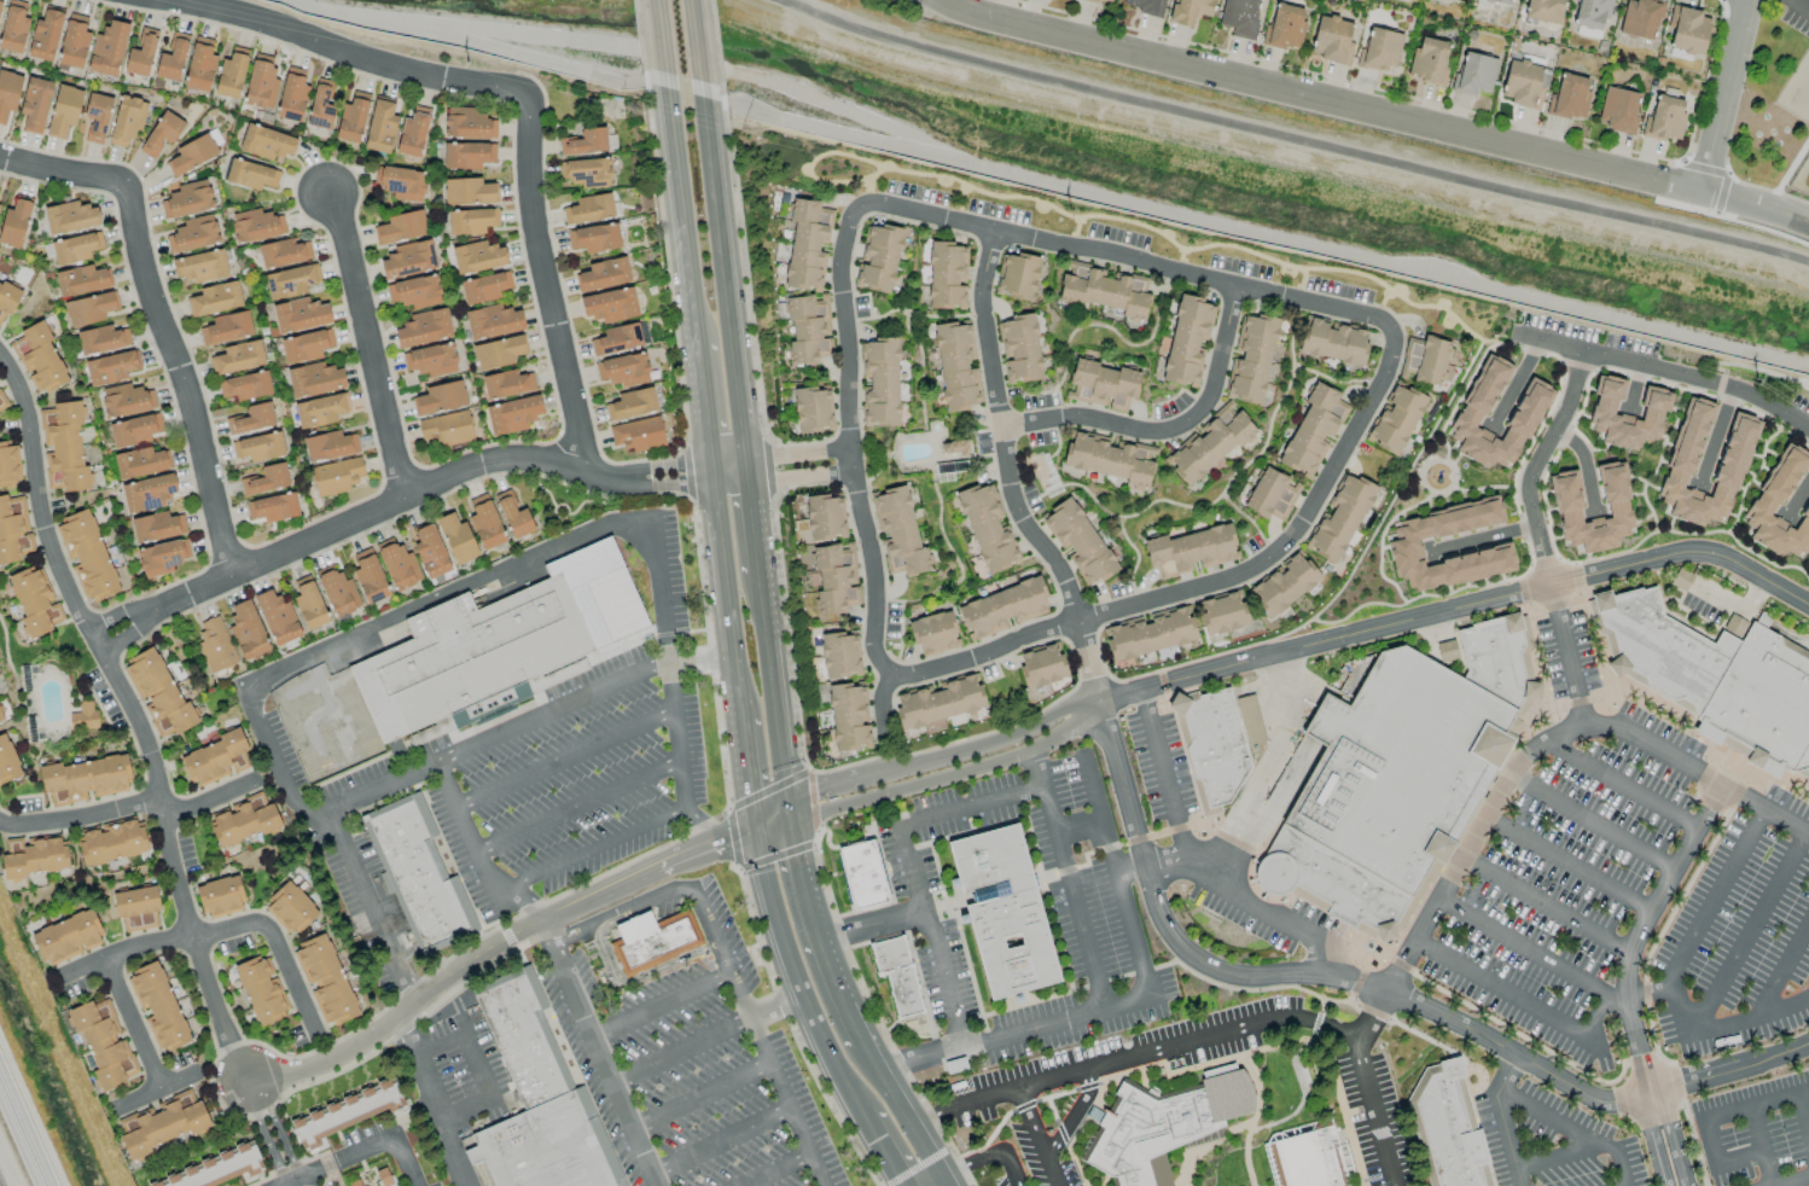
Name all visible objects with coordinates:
building: (1103, 1)
building: (1501, 1)
building: (0, 2)
road: (1801, 5)
building: (1147, 6)
building: (1543, 10)
building: (1189, 11)
building: (1592, 13)
parking lot: (1797, 14)
building: (1239, 17)
building: (1640, 18)
building: (13, 28)
building: (1284, 28)
building: (1687, 30)
building: (45, 35)
building: (1332, 40)
building: (74, 42)
road: (658, 43)
building: (107, 50)
building: (1380, 50)
road: (703, 51)
building: (141, 54)
power tower: (466, 56)
building: (171, 58)
building: (1429, 60)
building: (199, 65)
building: (231, 74)
building: (1473, 74)
building: (1524, 83)
building: (261, 86)
building: (8, 93)
road: (1726, 94)
building: (292, 95)
building: (1569, 98)
building: (35, 104)
building: (320, 105)
park: (1775, 105)
road: (529, 110)
building: (1617, 110)
building: (64, 111)
road: (1378, 111)
building: (97, 117)
building: (353, 117)
building: (1664, 117)
building: (127, 121)
building: (467, 123)
building: (380, 127)
road: (1313, 130)
building: (412, 133)
building: (162, 134)
building: (584, 141)
building: (194, 152)
building: (467, 155)
road: (1705, 169)
building: (586, 171)
road: (1787, 174)
building: (250, 175)
park: (1802, 180)
road: (836, 181)
building: (399, 184)
road: (869, 186)
building: (467, 191)
road: (1722, 193)
building: (187, 199)
road: (679, 203)
power tower: (1068, 203)
road: (964, 204)
building: (0, 205)
building: (588, 209)
road: (1716, 214)
building: (70, 217)
road: (1733, 220)
building: (471, 221)
building: (14, 223)
building: (256, 226)
building: (400, 227)
road: (1148, 228)
building: (193, 233)
building: (594, 238)
building: (807, 244)
building: (76, 248)
building: (283, 252)
building: (477, 257)
building: (878, 258)
building: (408, 260)
road: (1125, 262)
road: (1182, 262)
building: (200, 266)
building: (603, 274)
building: (946, 275)
building: (1016, 275)
building: (81, 280)
building: (289, 281)
road: (727, 285)
road: (1302, 285)
building: (484, 287)
building: (1104, 290)
building: (414, 292)
building: (215, 298)
building: (6, 301)
road: (1383, 304)
building: (610, 306)
building: (88, 309)
building: (299, 315)
road: (157, 320)
building: (493, 321)
road: (1103, 326)
building: (226, 329)
building: (423, 329)
building: (808, 329)
road: (694, 332)
building: (101, 339)
building: (616, 339)
road: (915, 339)
building: (1187, 341)
building: (1334, 342)
building: (306, 345)
road: (363, 347)
building: (1019, 348)
building: (498, 353)
building: (39, 357)
building: (238, 357)
building: (1251, 357)
building: (430, 360)
building: (1426, 361)
building: (956, 366)
building: (110, 368)
building: (623, 370)
road: (1307, 370)
road: (1756, 370)
power tower: (1755, 371)
road: (1667, 372)
building: (314, 379)
building: (879, 382)
building: (506, 384)
road: (1718, 384)
building: (1103, 385)
building: (245, 386)
road: (1517, 386)
road: (1026, 395)
road: (1717, 395)
building: (440, 399)
building: (126, 400)
road: (1727, 401)
building: (2, 402)
building: (632, 403)
building: (1474, 408)
road: (704, 409)
building: (813, 409)
building: (320, 411)
building: (1601, 413)
building: (512, 414)
building: (251, 419)
building: (1396, 419)
building: (444, 429)
building: (134, 430)
road: (1168, 430)
building: (1313, 430)
building: (636, 435)
road: (1718, 436)
road: (1058, 440)
road: (848, 442)
building: (1208, 444)
building: (328, 446)
building: (63, 447)
building: (258, 447)
building: (1733, 454)
building: (1110, 458)
building: (139, 463)
road: (669, 464)
road: (797, 464)
building: (7, 465)
road: (1535, 465)
road: (1241, 467)
road: (1586, 470)
road: (729, 472)
building: (336, 476)
road: (1006, 477)
building: (266, 479)
road: (669, 486)
building: (149, 493)
building: (1272, 495)
building: (1565, 495)
road: (1094, 499)
road: (1798, 505)
building: (273, 507)
road: (380, 507)
building: (1763, 508)
building: (513, 516)
road: (1128, 516)
building: (825, 517)
building: (1339, 517)
road: (752, 519)
building: (484, 523)
building: (157, 527)
building: (14, 529)
building: (988, 529)
building: (898, 531)
building: (456, 539)
building: (1077, 541)
road: (1484, 541)
building: (1189, 551)
building: (430, 552)
building: (1489, 553)
building: (86, 554)
building: (162, 557)
road: (956, 557)
building: (397, 564)
building: (370, 577)
building: (836, 579)
road: (1208, 585)
building: (337, 591)
road: (727, 598)
building: (34, 601)
building: (309, 604)
building: (1002, 609)
road: (1738, 609)
road: (1455, 610)
building: (1222, 612)
road: (116, 614)
building: (278, 617)
road: (397, 620)
road: (900, 626)
building: (246, 630)
building: (933, 633)
building: (1150, 633)
road: (127, 634)
building: (215, 644)
building: (839, 655)
road: (1565, 658)
building: (471, 661)
building: (1501, 662)
building: (1041, 665)
building: (1716, 679)
road: (775, 691)
building: (158, 693)
building: (1037, 693)
building: (940, 702)
road: (883, 708)
road: (135, 715)
building: (1250, 716)
building: (83, 717)
building: (848, 717)
road: (533, 722)
building: (1218, 749)
road: (940, 756)
road: (566, 758)
building: (215, 760)
building: (7, 762)
building: (1403, 771)
road: (751, 773)
road: (947, 775)
building: (85, 779)
road: (1621, 785)
road: (1253, 789)
road: (211, 798)
road: (969, 804)
road: (580, 808)
road: (78, 816)
road: (773, 819)
building: (243, 820)
road: (1594, 821)
road: (1077, 825)
road: (1482, 826)
road: (694, 829)
road: (731, 837)
building: (112, 842)
road: (477, 849)
road: (591, 850)
building: (34, 856)
road: (1189, 862)
road: (1569, 864)
building: (421, 876)
building: (869, 876)
road: (1065, 878)
parking lot: (1619, 886)
building: (1337, 888)
building: (220, 896)
road: (1547, 903)
building: (136, 908)
building: (290, 908)
road: (1163, 908)
building: (1008, 912)
road: (872, 928)
road: (814, 929)
road: (1750, 929)
road: (931, 934)
building: (68, 937)
building: (655, 942)
road: (277, 947)
road: (123, 950)
road: (1530, 952)
road: (470, 961)
road: (1785, 966)
road: (725, 967)
road: (799, 973)
building: (901, 975)
road: (1669, 975)
road: (1625, 978)
building: (325, 979)
road: (629, 982)
building: (261, 992)
road: (1648, 994)
road: (1646, 995)
road: (1125, 999)
road: (1327, 1000)
road: (1520, 1002)
building: (157, 1006)
road: (778, 1007)
road: (659, 1008)
road: (789, 1018)
road: (133, 1024)
road: (1495, 1024)
building: (103, 1045)
road: (326, 1051)
road: (679, 1052)
road: (597, 1054)
road: (1130, 1058)
road: (479, 1069)
road: (1180, 1071)
road: (1141, 1080)
road: (1169, 1083)
road: (1569, 1088)
road: (157, 1091)
road: (1256, 1091)
road: (699, 1097)
road: (432, 1100)
building: (540, 1105)
road: (1755, 1105)
road: (900, 1110)
building: (343, 1115)
road: (1803, 1115)
road: (1074, 1117)
road: (1284, 1118)
road: (1500, 1118)
building: (1162, 1122)
building: (162, 1123)
road: (277, 1127)
building: (1446, 1128)
road: (1572, 1128)
railway: (24, 1129)
road: (1077, 1133)
road: (263, 1134)
road: (389, 1134)
road: (1037, 1136)
railway: (19, 1141)
road: (1205, 1143)
road: (719, 1144)
road: (1709, 1144)
road: (1763, 1145)
road: (886, 1149)
road: (985, 1157)
building: (1311, 1159)
road: (1564, 1159)
road: (1741, 1162)
building: (216, 1170)
road: (776, 1170)
road: (308, 1173)
building: (388, 1176)
road: (1795, 1180)
road: (1105, 1181)
building: (357, 1182)
road: (290, 1184)
road: (936, 1184)
road: (940, 1184)

